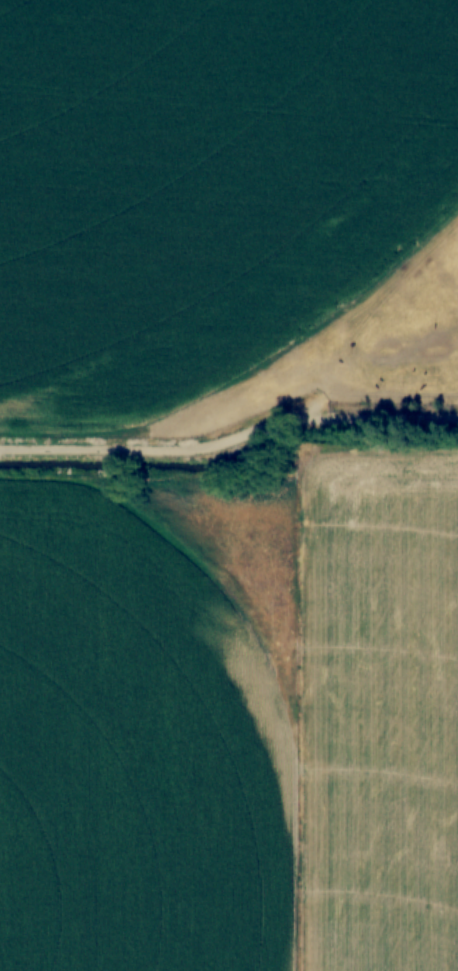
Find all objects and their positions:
crop: (204, 187)
road: (230, 442)

